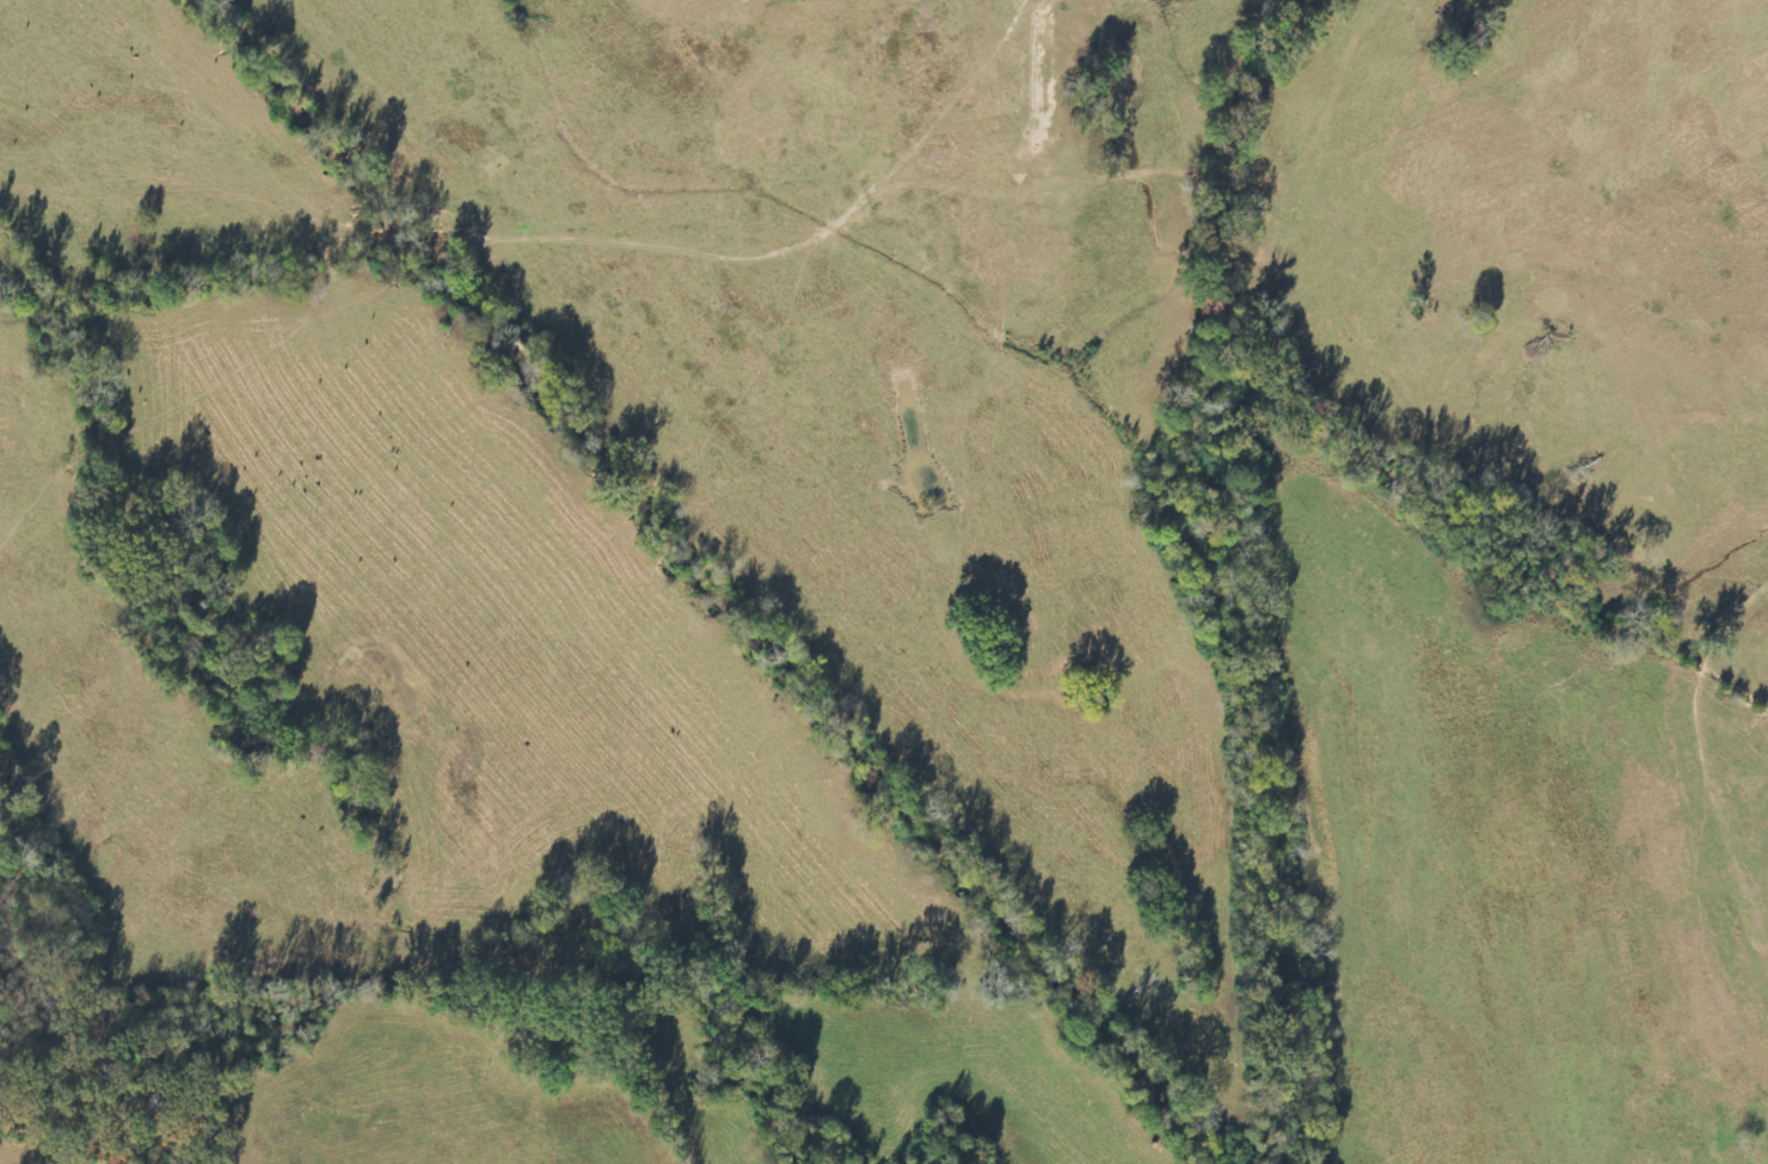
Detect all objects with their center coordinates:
road: (1706, 679)

